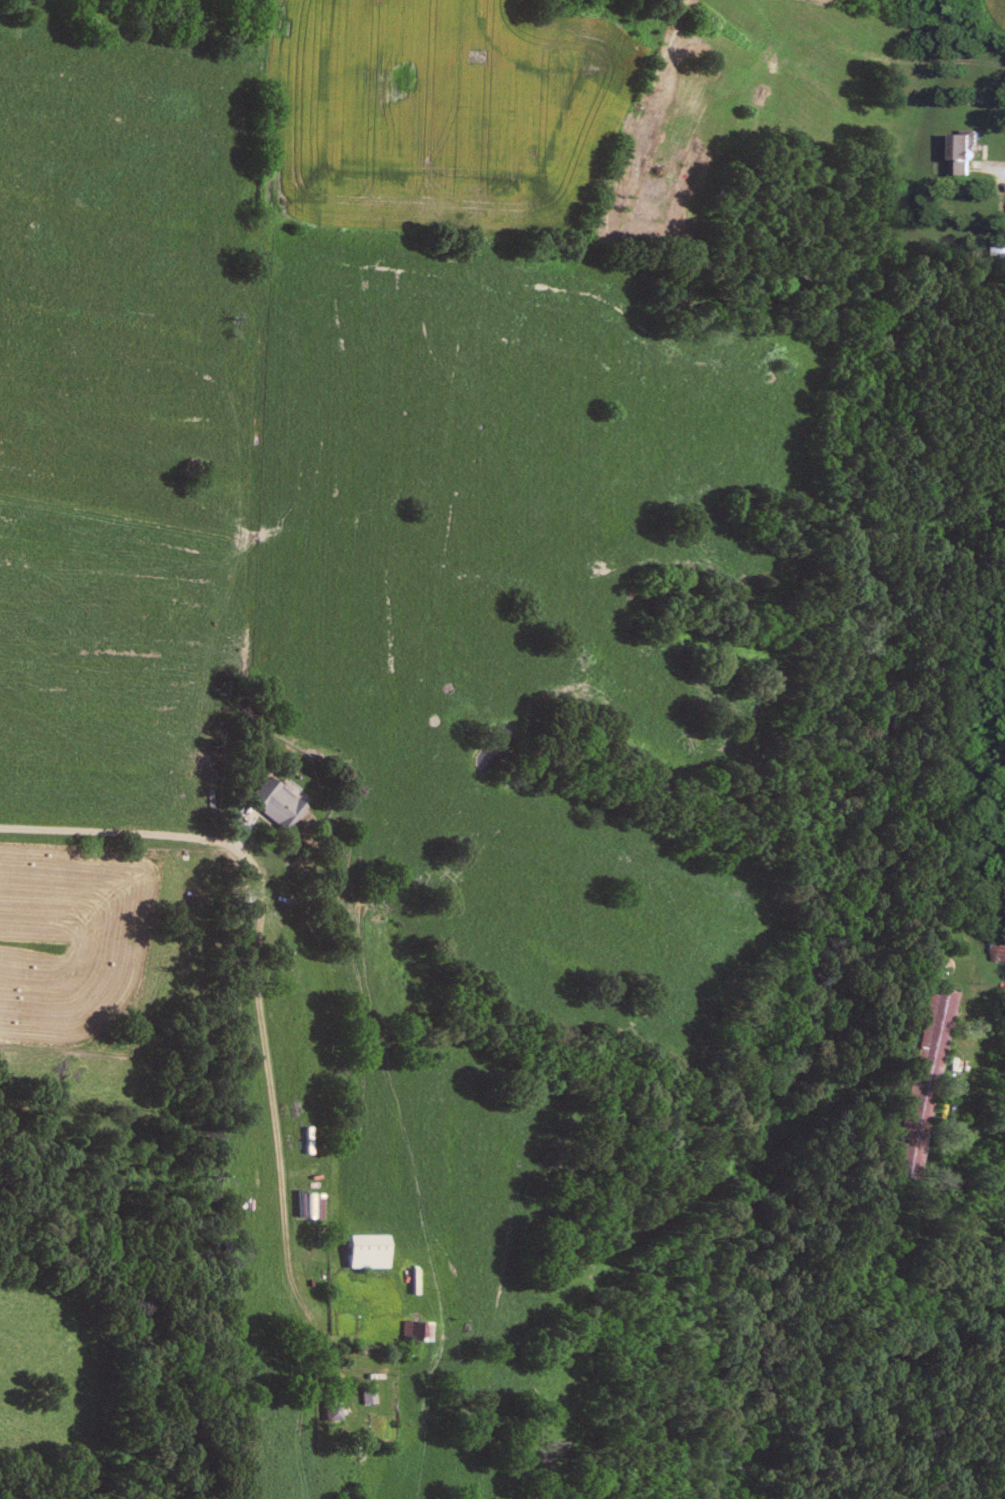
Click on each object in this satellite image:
road: (996, 167)
building: (280, 808)
road: (983, 1038)
building: (932, 1051)
building: (371, 1253)
building: (426, 1334)
building: (367, 1398)

